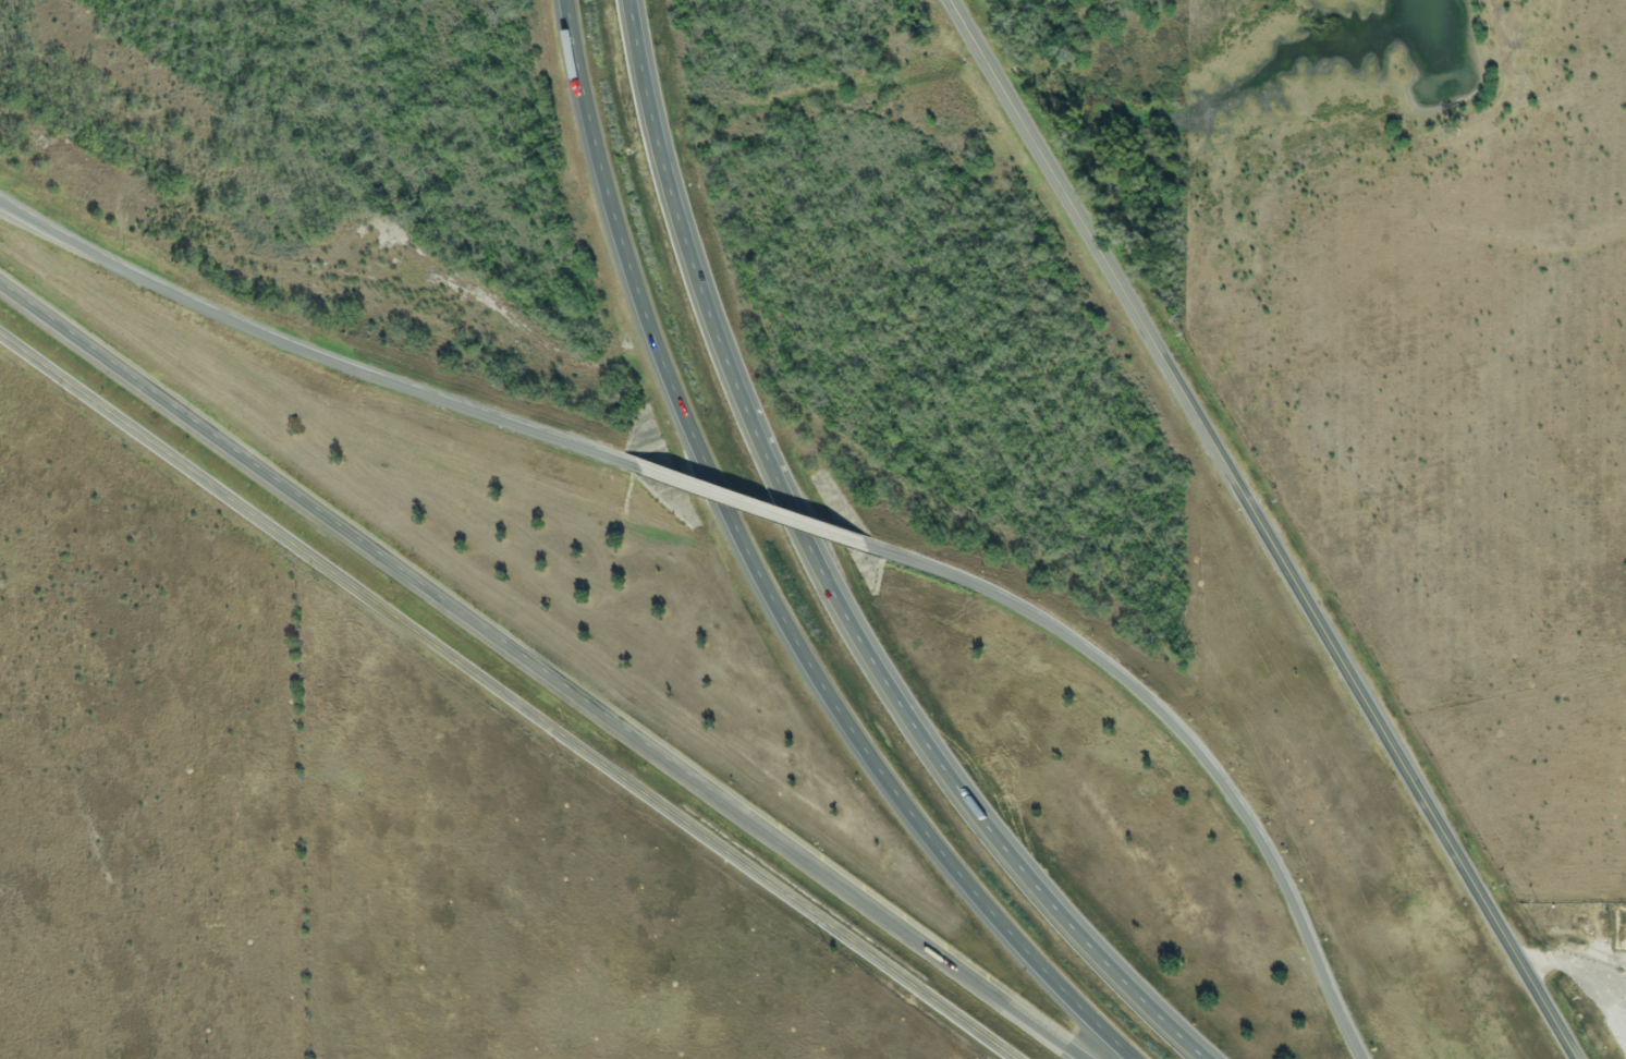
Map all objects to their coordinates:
road: (314, 344)
road: (761, 504)
road: (342, 524)
road: (1267, 528)
road: (829, 579)
road: (757, 580)
road: (506, 696)
road: (1188, 740)
road: (889, 913)
road: (1585, 981)

